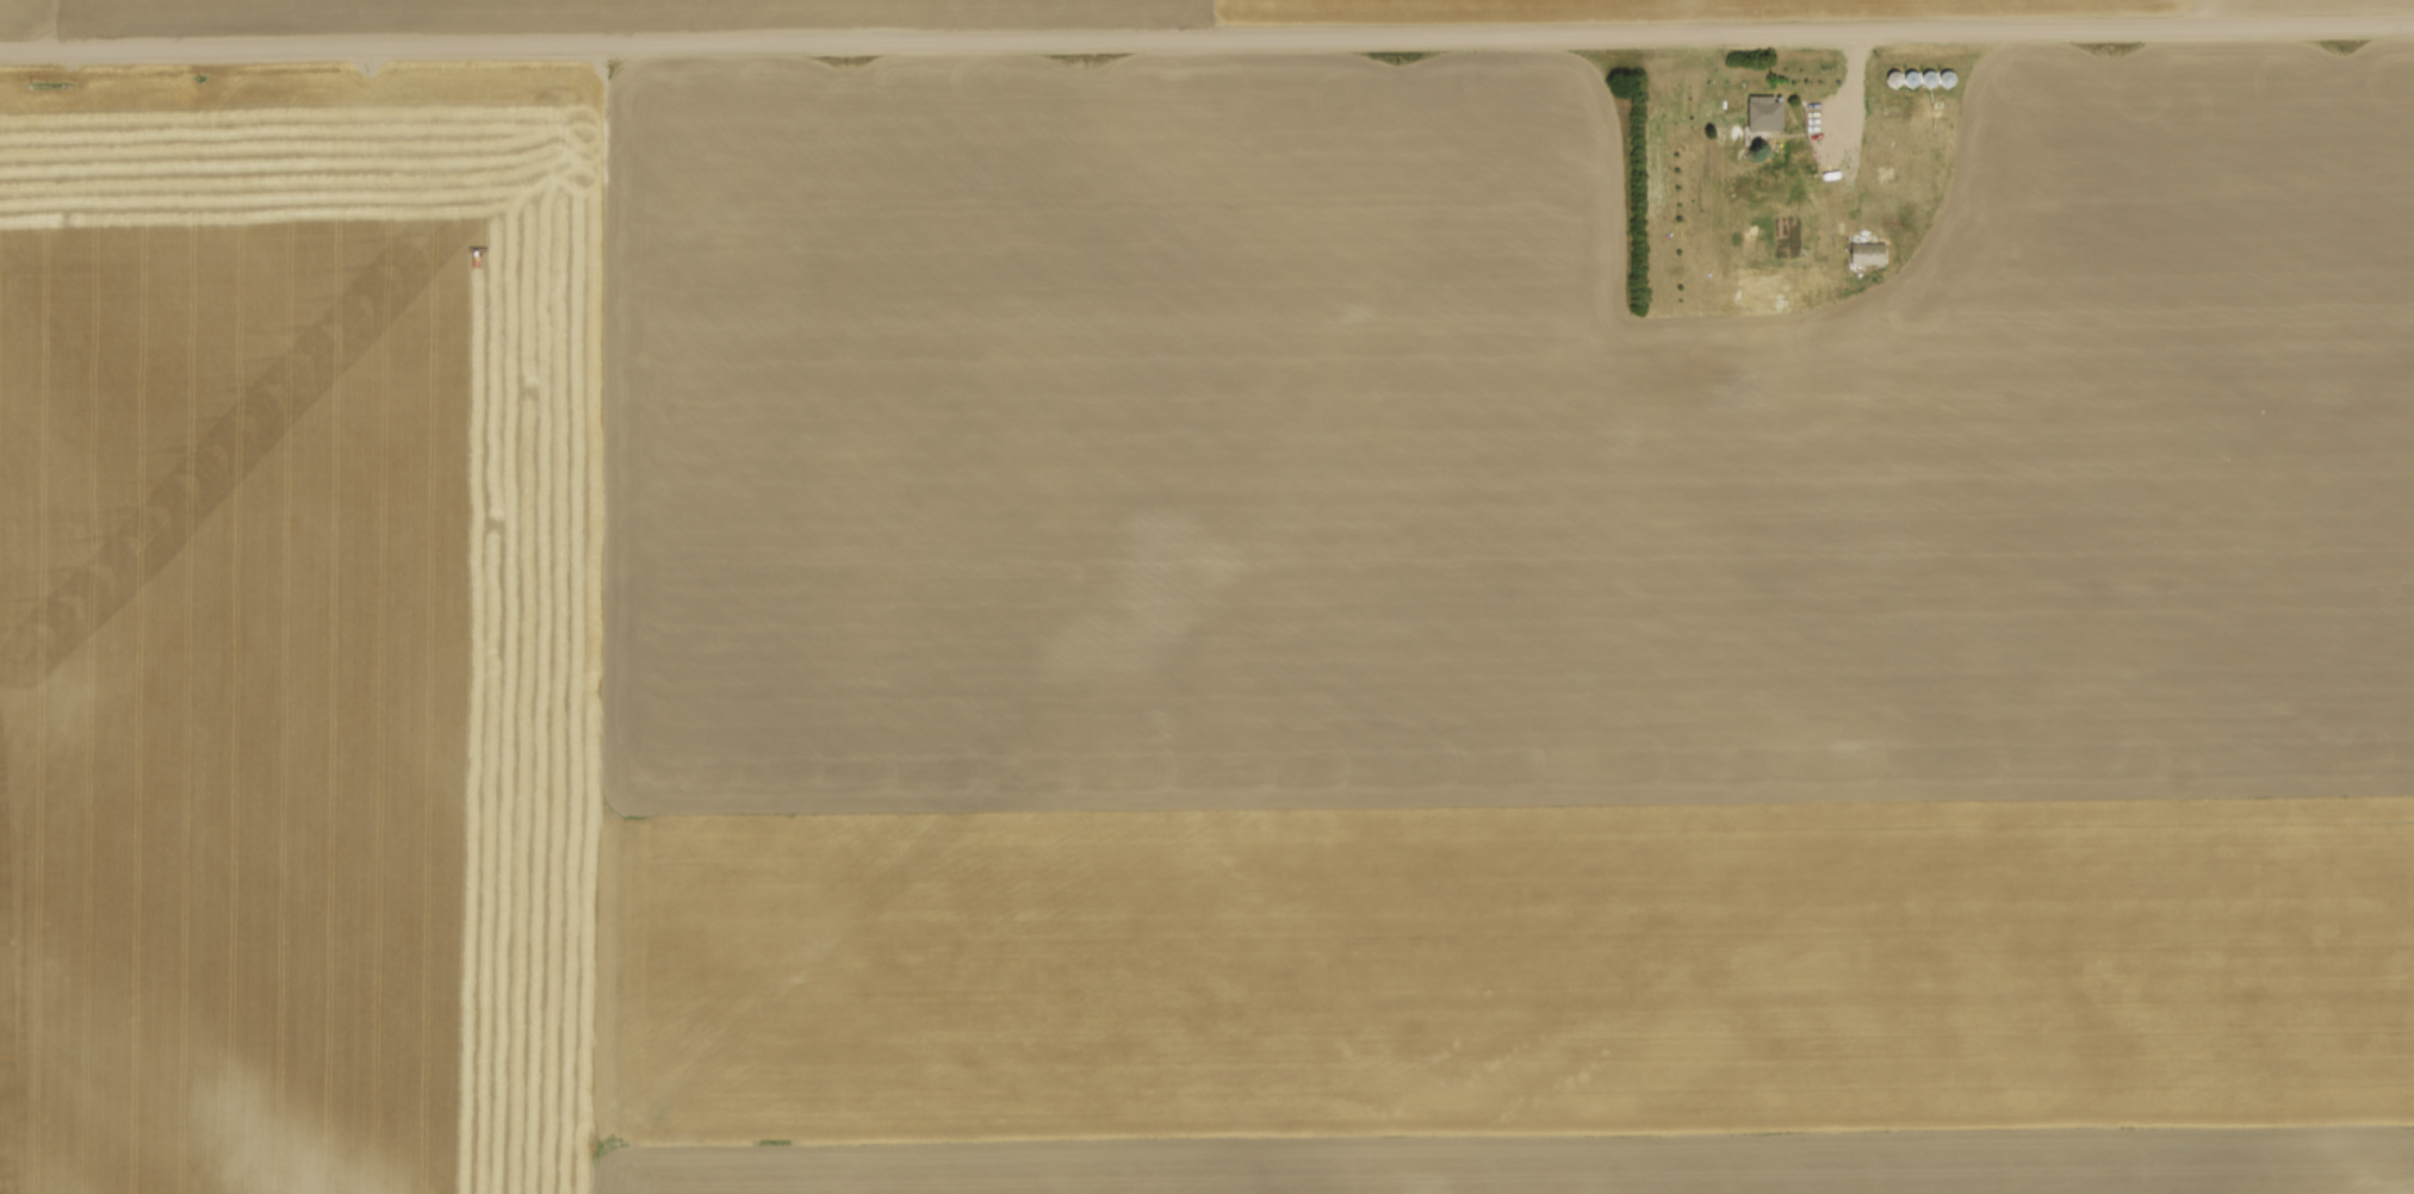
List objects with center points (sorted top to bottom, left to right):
crop: (976, 10)
road: (1206, 38)
silo: (1918, 76)
silo: (1936, 76)
silo: (1897, 77)
silo: (1954, 77)
building: (1770, 112)
road: (1848, 141)
building: (1889, 174)
building: (1870, 251)
crop: (1189, 641)

